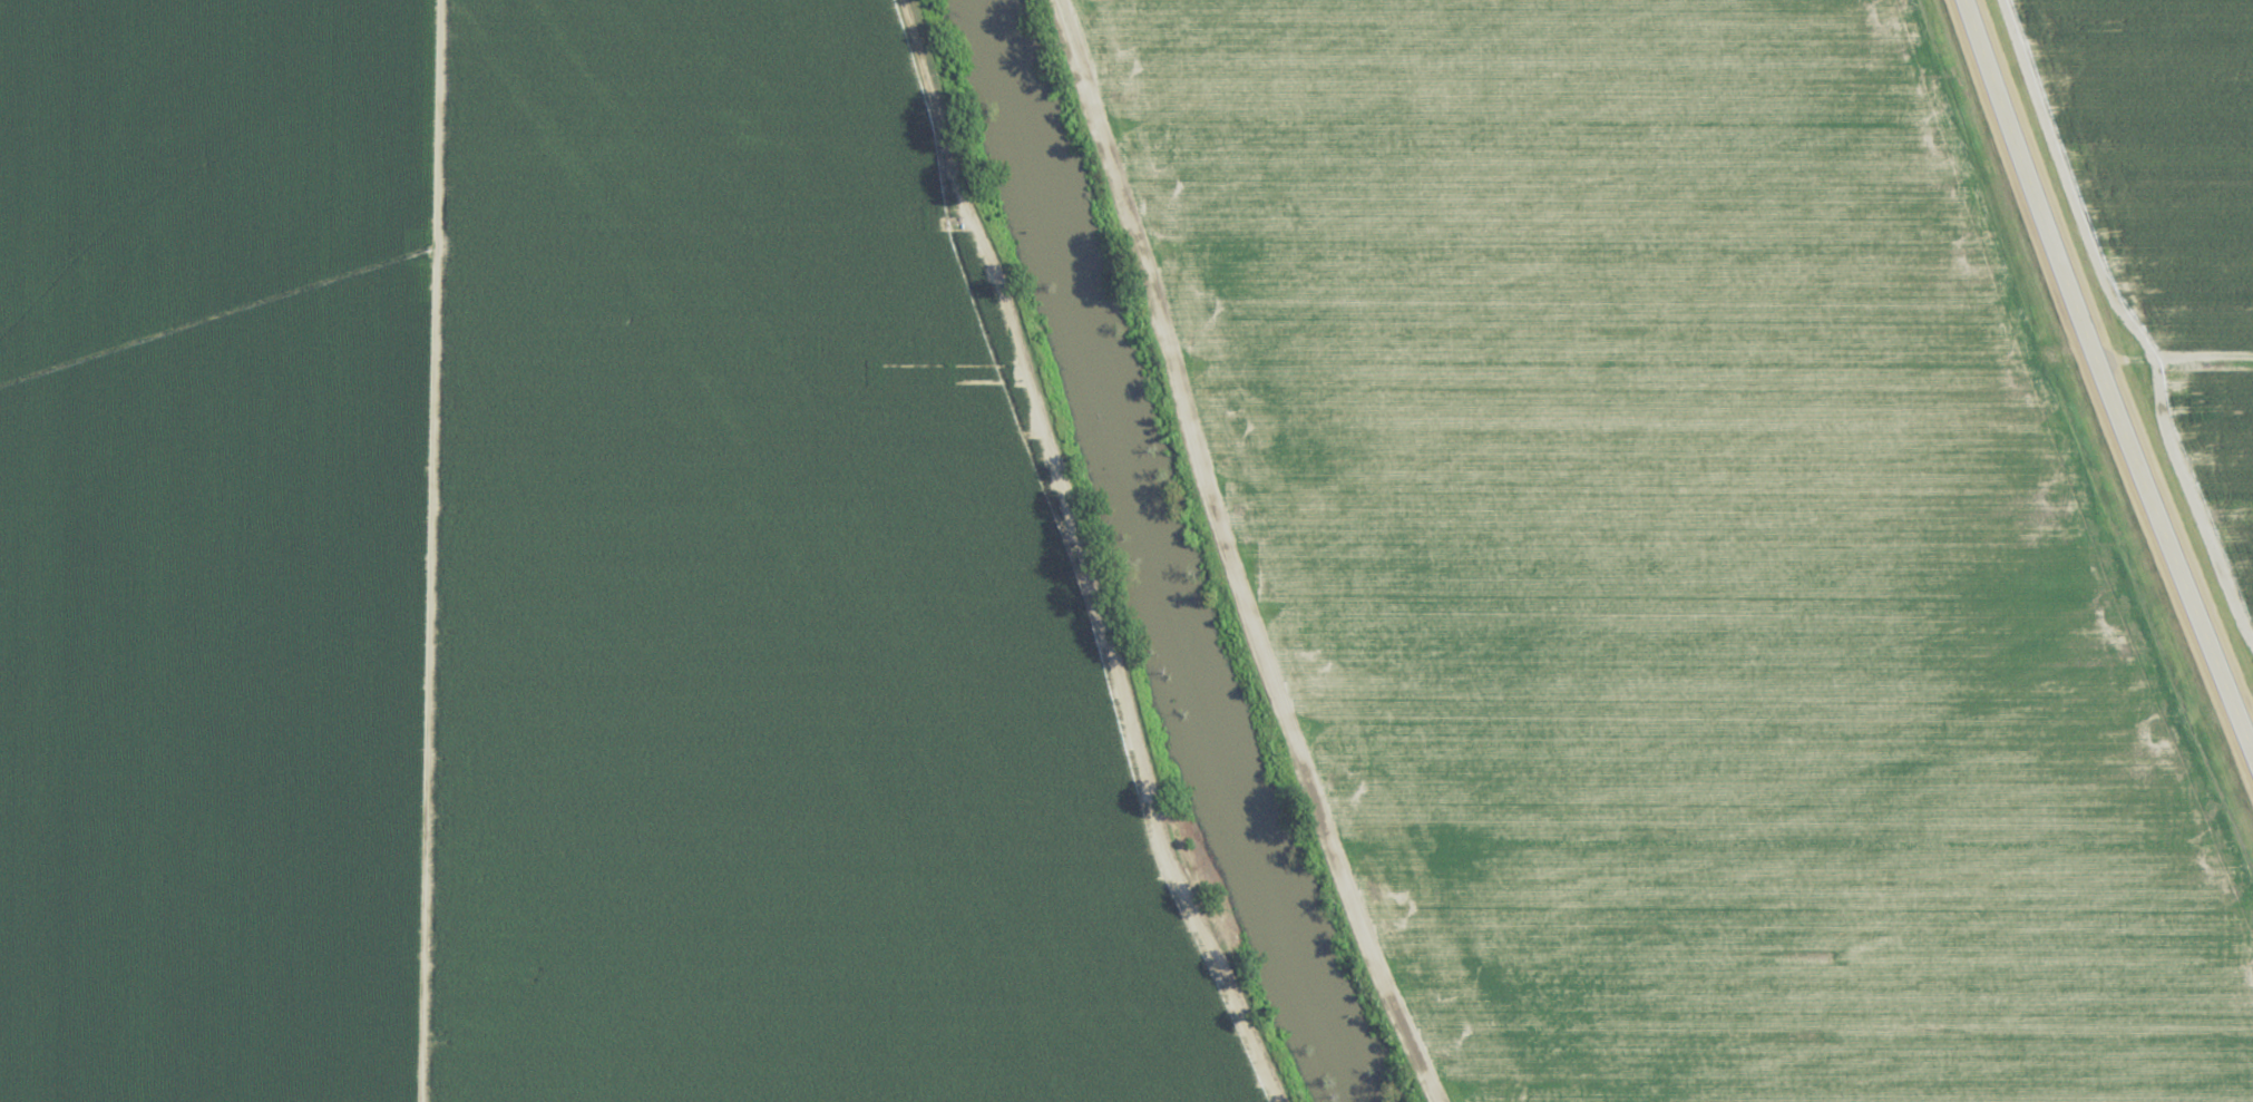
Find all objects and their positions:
road: (1121, 173)
road: (1714, 351)
road: (2100, 381)
road: (430, 550)
river: (1174, 552)
road: (1295, 729)

